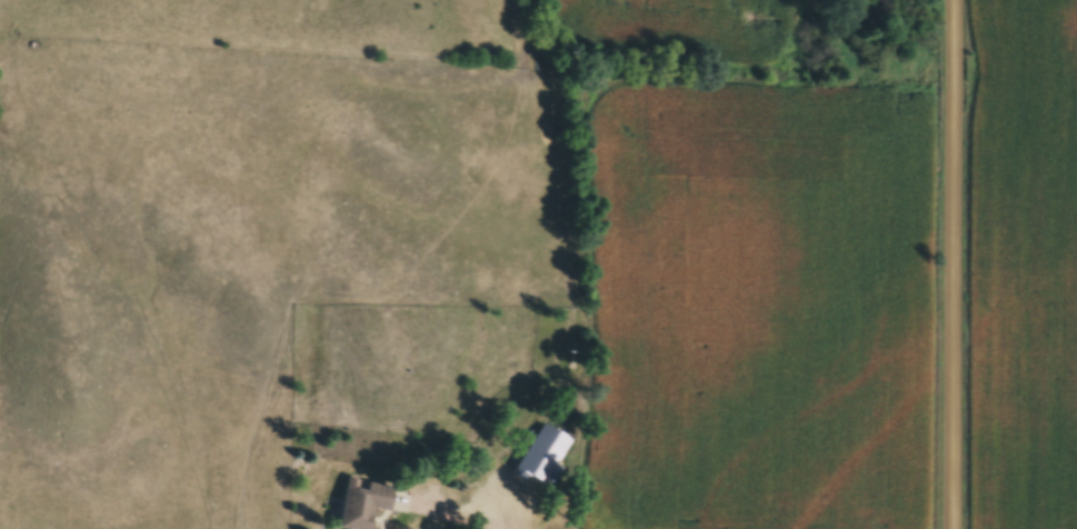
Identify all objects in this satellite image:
crop: (675, 29)
crop: (1025, 263)
road: (948, 264)
building: (479, 500)
building: (366, 503)

